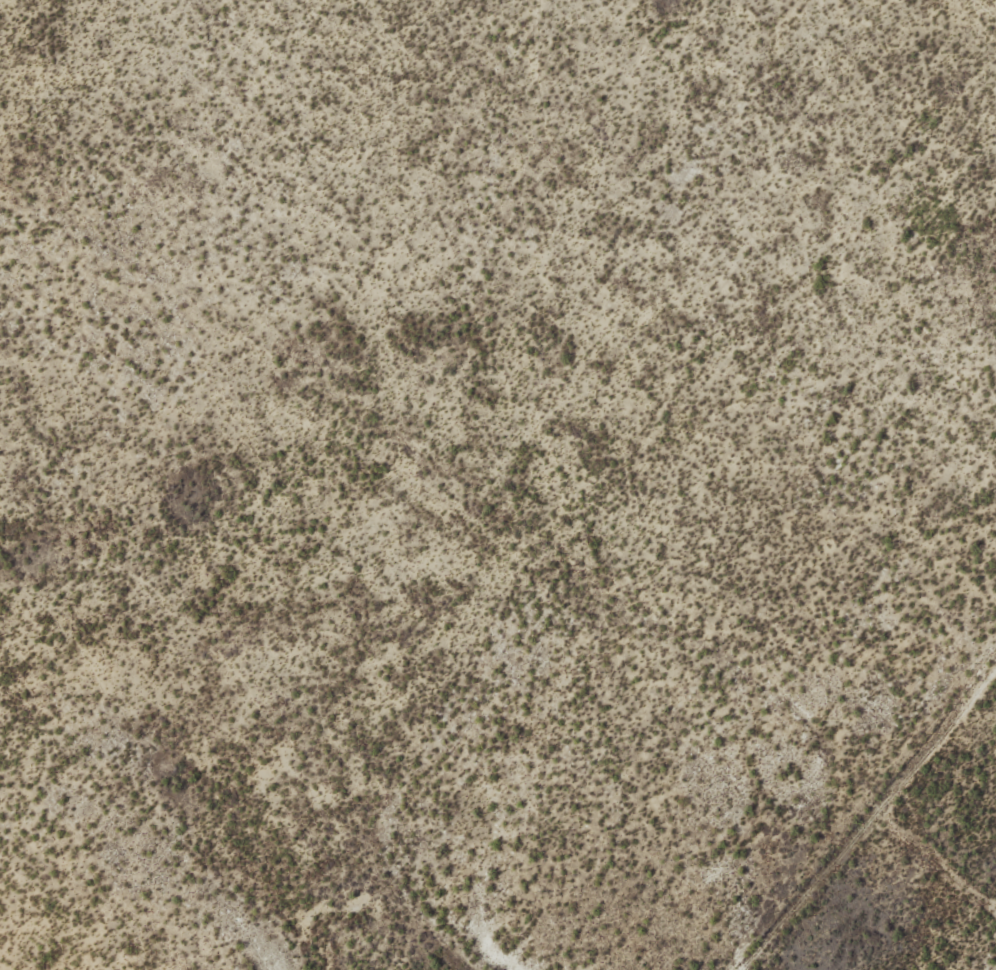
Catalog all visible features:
road: (992, 3)
road: (932, 747)
road: (803, 813)
road: (859, 836)

